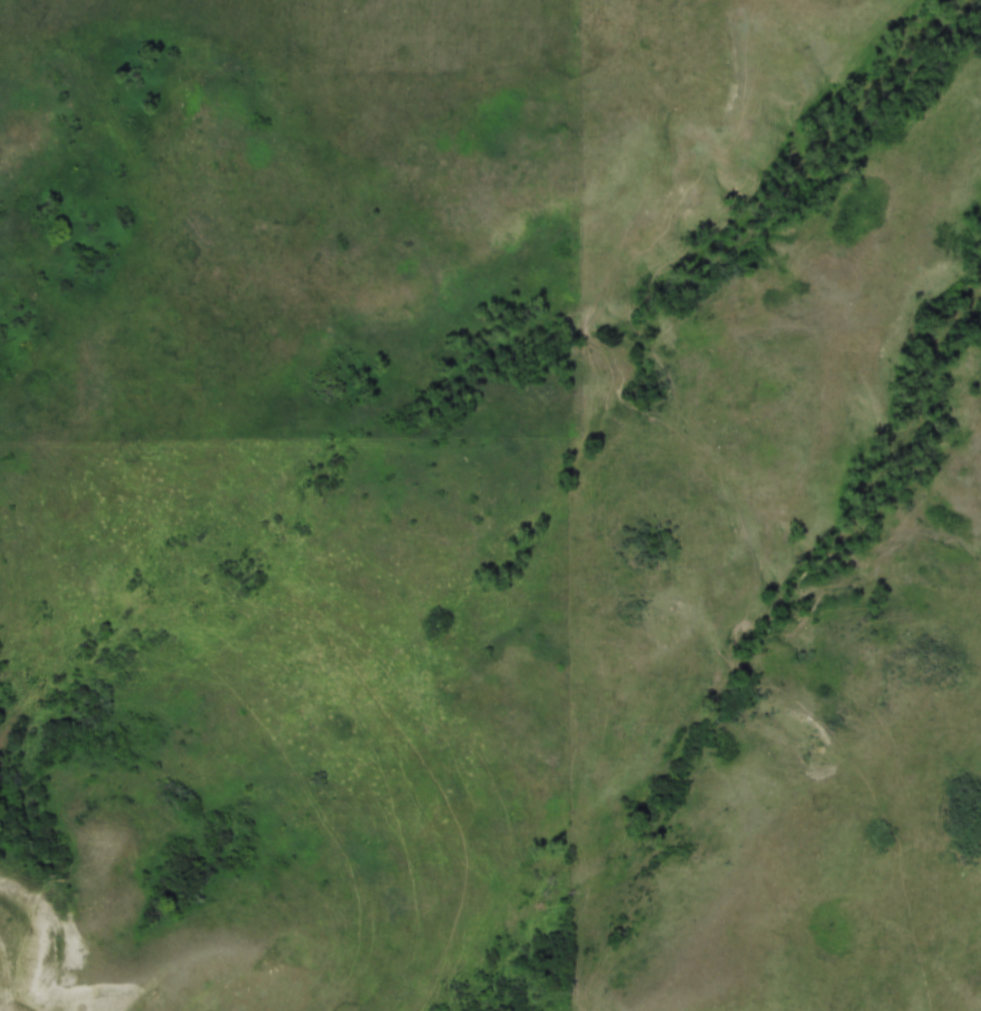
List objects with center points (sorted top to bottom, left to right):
quarry: (64, 959)

